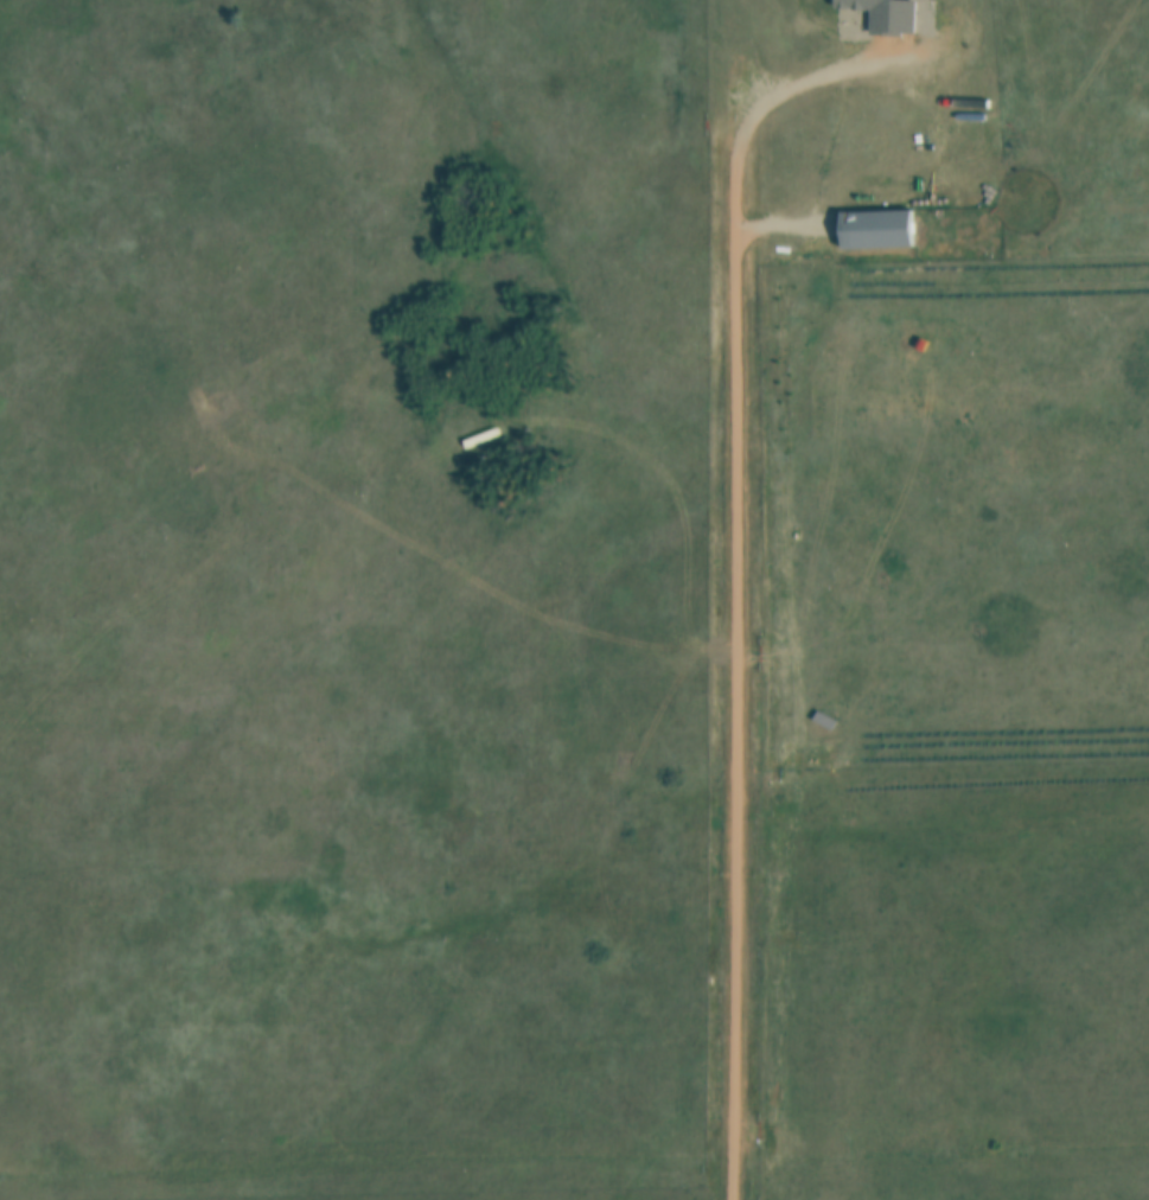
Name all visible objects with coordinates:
building: (888, 14)
building: (875, 224)
road: (777, 226)
road: (734, 574)

